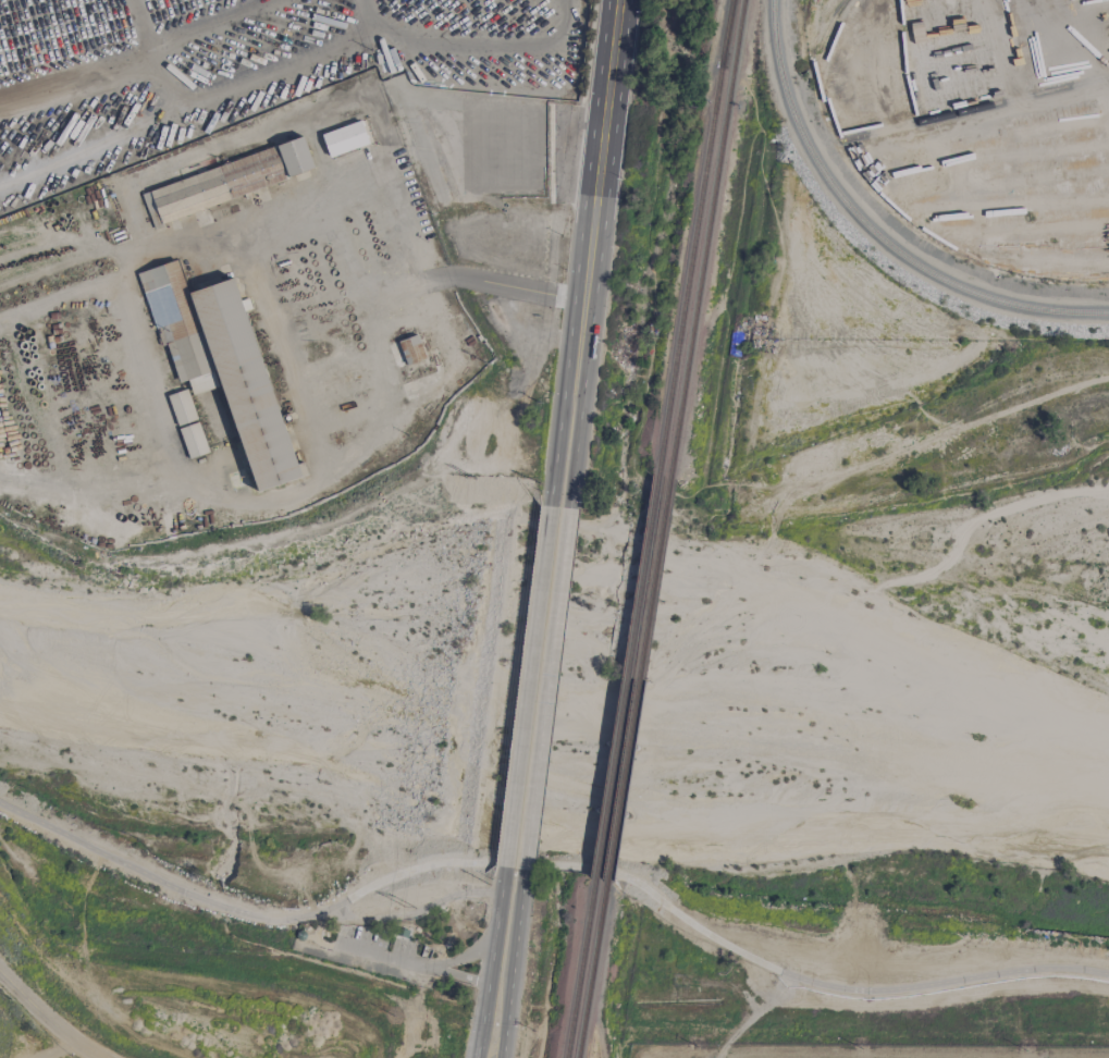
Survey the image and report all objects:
road: (368, 12)
railway: (828, 23)
road: (1070, 29)
road: (358, 32)
railway: (726, 34)
railway: (727, 34)
road: (500, 49)
road: (604, 127)
building: (344, 138)
building: (521, 167)
building: (226, 182)
railway: (705, 239)
road: (343, 245)
railway: (689, 271)
road: (297, 341)
building: (410, 349)
building: (220, 362)
road: (565, 380)
road: (582, 382)
building: (181, 407)
building: (193, 441)
road: (172, 460)
railway: (626, 677)
railway: (638, 680)
road: (527, 688)
road: (545, 690)
river: (552, 715)
road: (160, 882)
road: (416, 912)
road: (711, 936)
parking lot: (379, 949)
road: (491, 962)
road: (421, 963)
road: (512, 964)
railway: (581, 968)
railway: (591, 969)
road: (459, 974)
road: (46, 1019)

